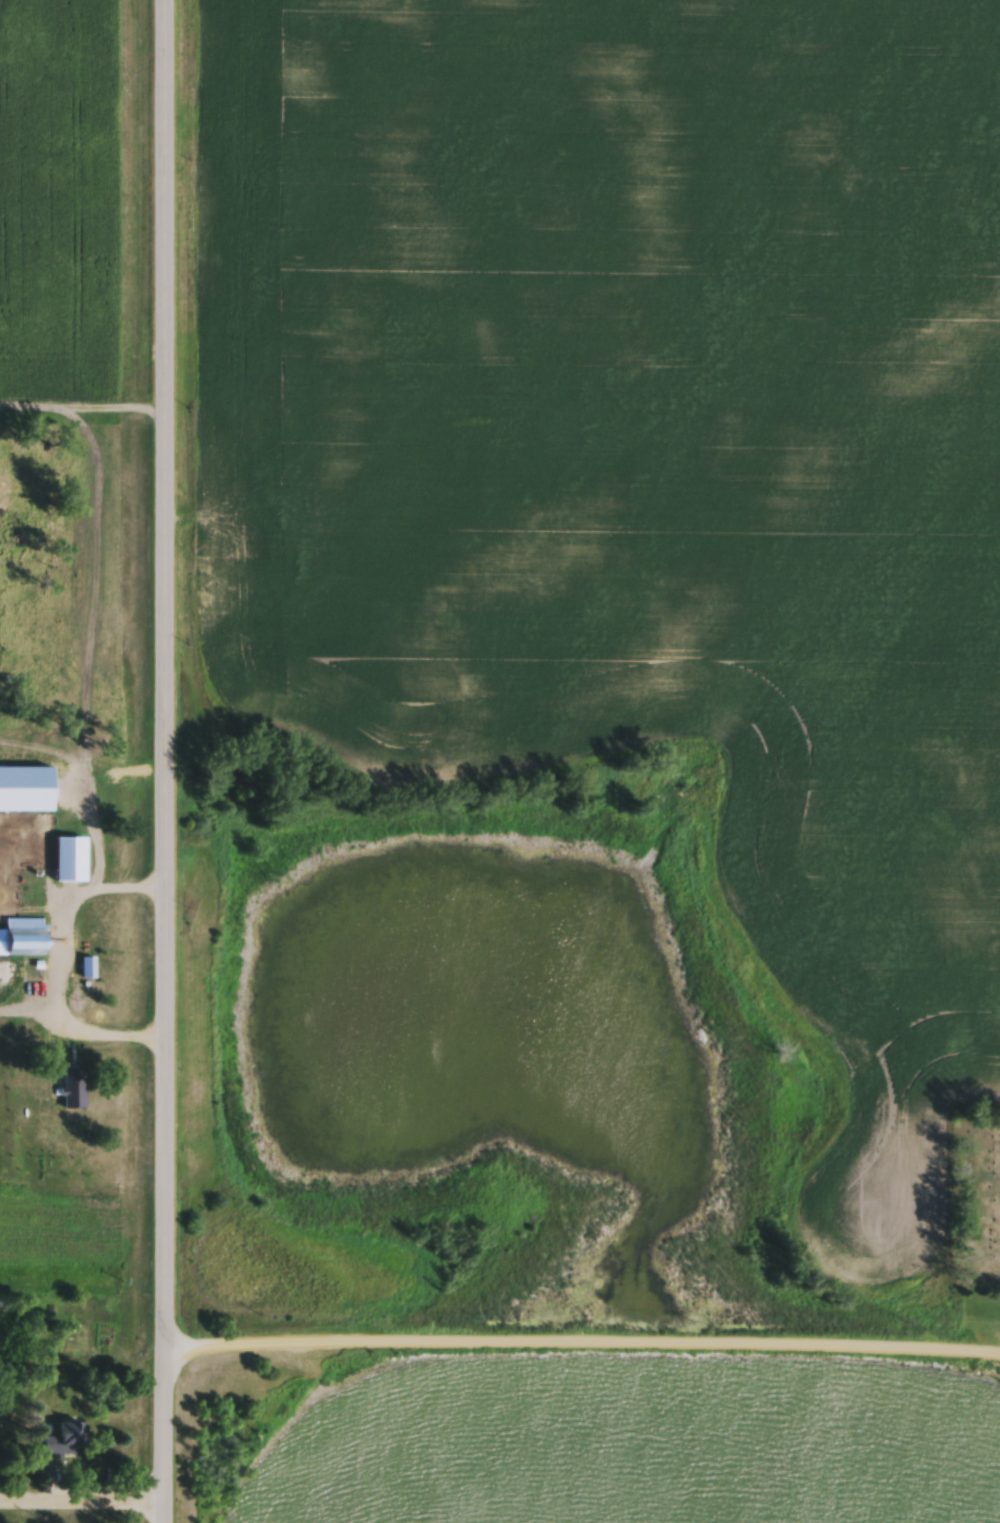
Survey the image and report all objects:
road: (82, 410)
road: (162, 761)
building: (3, 804)
building: (74, 863)
building: (27, 940)
road: (58, 966)
building: (89, 970)
road: (30, 1009)
building: (77, 1089)
park: (979, 1202)
road: (579, 1343)
building: (66, 1444)
road: (80, 1503)

